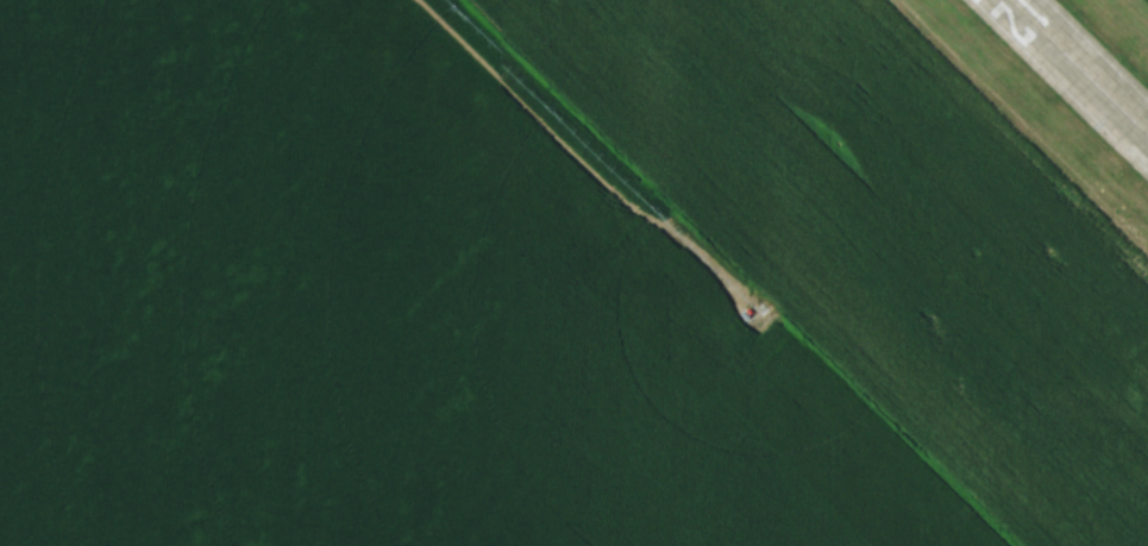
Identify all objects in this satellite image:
airport runway: (1084, 62)

